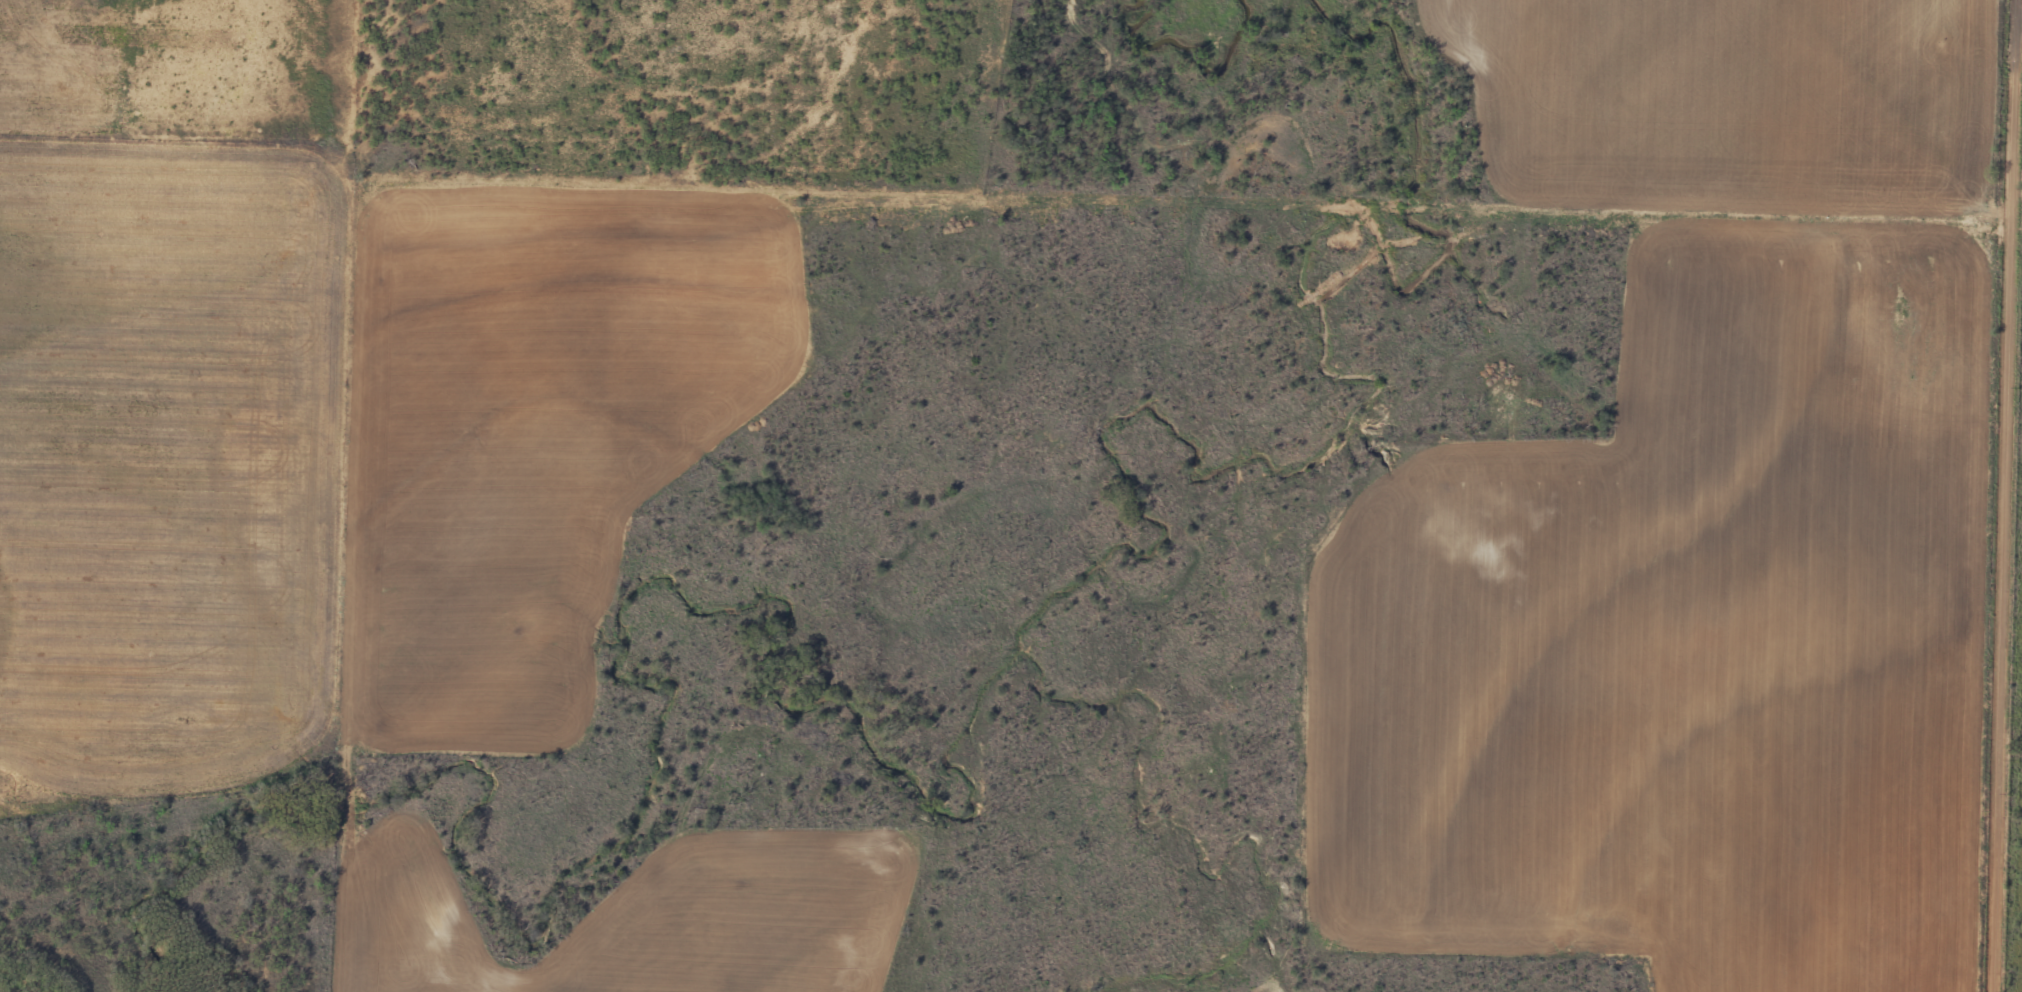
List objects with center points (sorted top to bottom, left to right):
road: (2005, 496)

